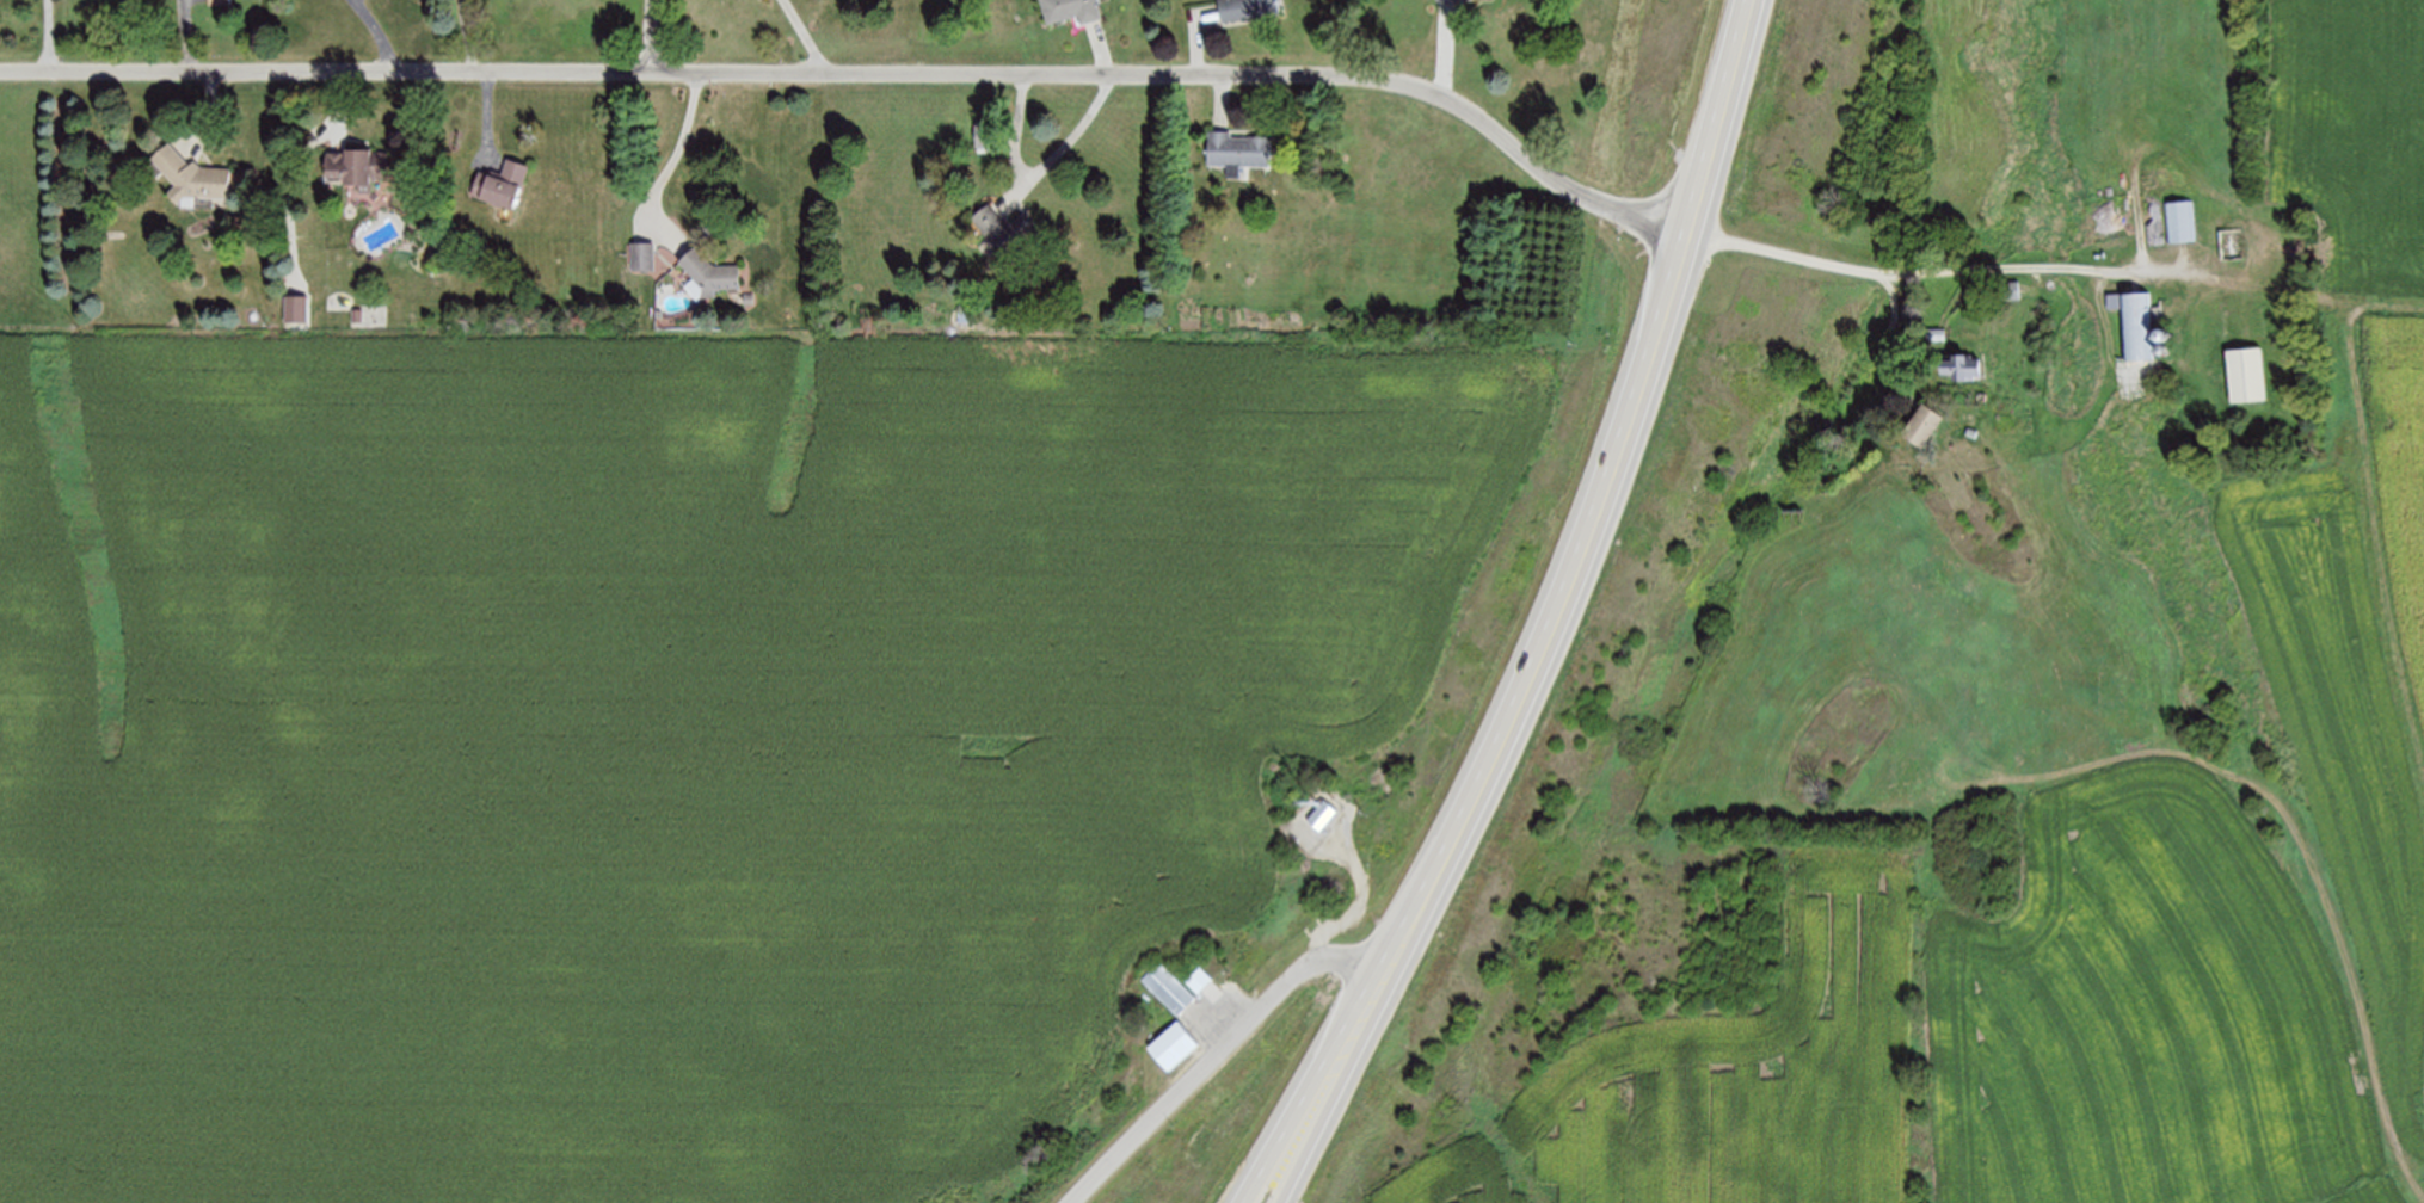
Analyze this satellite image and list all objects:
building: (1465, 0)
building: (221, 1)
building: (1447, 1)
building: (1247, 8)
building: (1071, 10)
road: (379, 32)
road: (805, 33)
road: (53, 35)
road: (189, 35)
road: (466, 35)
road: (651, 35)
road: (1196, 36)
road: (1447, 51)
road: (866, 72)
road: (1223, 99)
road: (210, 111)
road: (488, 117)
road: (1020, 128)
road: (1083, 130)
building: (986, 136)
building: (1237, 150)
road: (294, 160)
road: (672, 162)
building: (356, 167)
building: (192, 177)
building: (500, 185)
building: (2184, 221)
building: (1002, 229)
building: (2231, 243)
building: (642, 258)
road: (1951, 270)
building: (710, 273)
building: (2008, 290)
road: (2320, 298)
building: (296, 309)
building: (2135, 326)
road: (1897, 327)
building: (1933, 335)
building: (1961, 368)
building: (2247, 374)
building: (1922, 425)
road: (1610, 496)
road: (2376, 547)
building: (1322, 814)
road: (1359, 907)
building: (1199, 977)
building: (1168, 986)
building: (1173, 1047)
road: (1217, 1053)
road: (2423, 1060)
road: (1315, 1081)
road: (1343, 1086)

